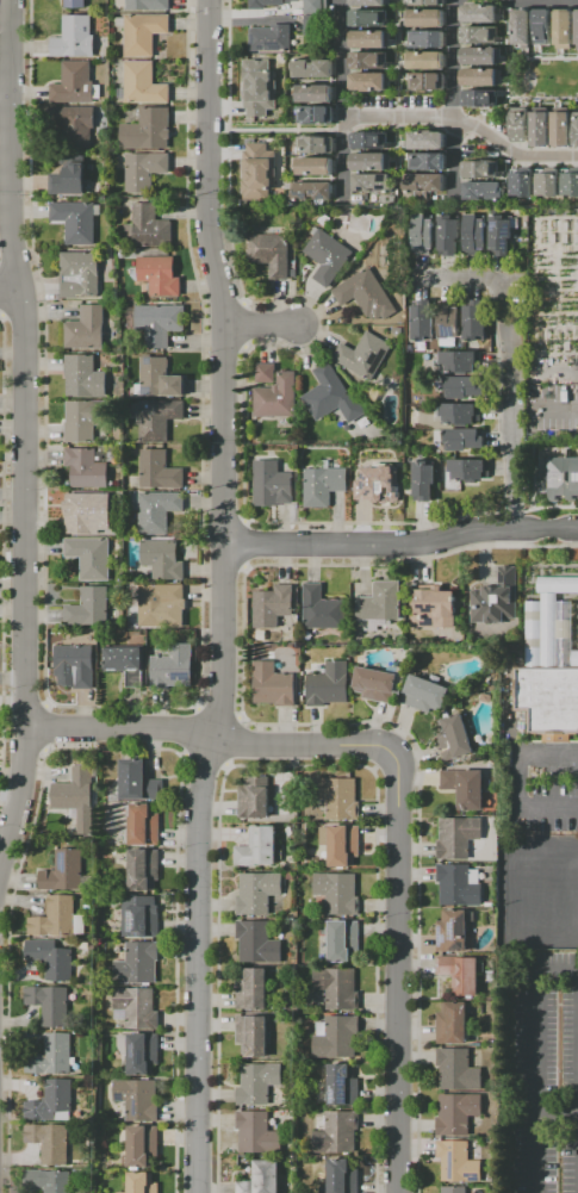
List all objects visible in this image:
building: (77, 4)
building: (269, 4)
building: (371, 4)
building: (430, 4)
building: (150, 5)
building: (318, 7)
building: (483, 15)
building: (371, 19)
building: (428, 19)
building: (316, 27)
building: (546, 29)
building: (576, 29)
building: (524, 30)
building: (566, 30)
building: (145, 33)
building: (483, 37)
building: (76, 39)
building: (273, 39)
building: (373, 41)
building: (430, 41)
rooftop solar panel: (271, 44)
rooftop solar panel: (259, 45)
building: (484, 57)
road: (456, 60)
building: (371, 62)
building: (428, 62)
building: (315, 69)
building: (484, 79)
building: (371, 83)
building: (430, 83)
building: (76, 85)
building: (145, 85)
building: (261, 89)
building: (317, 95)
road: (2, 98)
road: (344, 100)
building: (481, 100)
building: (318, 116)
road: (400, 119)
building: (76, 126)
building: (522, 126)
building: (542, 131)
building: (564, 131)
building: (577, 131)
building: (149, 132)
building: (371, 142)
building: (429, 142)
building: (318, 145)
road: (512, 153)
building: (373, 163)
building: (430, 163)
building: (317, 168)
building: (481, 170)
building: (147, 172)
building: (261, 174)
building: (72, 178)
building: (374, 185)
building: (524, 185)
building: (551, 185)
building: (571, 185)
building: (425, 187)
building: (313, 192)
building: (485, 192)
building: (79, 223)
rooftop solar panel: (495, 224)
building: (150, 229)
building: (503, 235)
building: (424, 236)
building: (450, 236)
building: (477, 236)
rooftop solar panel: (503, 238)
building: (272, 255)
building: (330, 259)
building: (81, 276)
building: (161, 276)
road: (7, 293)
building: (368, 297)
building: (477, 322)
building: (424, 323)
building: (162, 324)
building: (450, 324)
road: (262, 327)
building: (88, 330)
rooftop solar panel: (443, 333)
building: (366, 358)
rooftop solar panel: (371, 358)
rooftop solar panel: (147, 360)
rooftop solar panel: (374, 361)
building: (462, 364)
building: (268, 374)
road: (509, 374)
building: (87, 379)
building: (162, 380)
building: (465, 389)
rooftop solar panel: (145, 391)
building: (335, 398)
building: (279, 399)
road: (560, 406)
building: (462, 415)
building: (159, 420)
building: (87, 421)
road: (20, 424)
building: (465, 441)
building: (88, 470)
building: (471, 471)
building: (162, 473)
building: (561, 479)
building: (383, 480)
building: (425, 483)
building: (325, 485)
building: (274, 486)
building: (88, 512)
building: (160, 512)
road: (400, 545)
building: (93, 559)
building: (164, 560)
road: (220, 596)
building: (498, 601)
building: (160, 604)
building: (383, 604)
building: (274, 608)
building: (92, 609)
building: (434, 609)
building: (324, 611)
building: (79, 665)
building: (129, 665)
building: (551, 665)
building: (175, 669)
building: (381, 685)
building: (275, 686)
building: (331, 686)
building: (428, 696)
road: (309, 725)
road: (210, 737)
building: (456, 737)
road: (517, 781)
building: (141, 783)
building: (467, 789)
building: (79, 799)
building: (256, 800)
building: (341, 800)
building: (145, 827)
building: (460, 839)
building: (343, 846)
building: (260, 850)
rooftop solar panel: (63, 862)
road: (548, 862)
building: (145, 871)
building: (67, 874)
building: (461, 887)
building: (260, 894)
building: (341, 894)
building: (143, 918)
rooftop solar panel: (133, 919)
building: (61, 920)
rooftop solar panel: (145, 926)
rooftop solar panel: (448, 928)
rooftop solar panel: (456, 928)
building: (454, 933)
rooftop solar panel: (448, 937)
rooftop solar panel: (437, 938)
building: (346, 942)
building: (260, 944)
building: (54, 959)
building: (139, 965)
road: (393, 976)
building: (462, 976)
building: (340, 989)
building: (254, 992)
road: (536, 1005)
building: (52, 1006)
building: (138, 1009)
building: (454, 1025)
building: (255, 1037)
building: (338, 1038)
rooftop solar panel: (133, 1051)
building: (142, 1054)
building: (54, 1057)
rooftop solar panel: (142, 1058)
rooftop solar panel: (343, 1071)
building: (460, 1071)
rooftop solar panel: (340, 1082)
building: (260, 1085)
building: (344, 1087)
rooftop solar panel: (341, 1096)
rooftop solar panel: (120, 1098)
building: (141, 1101)
building: (54, 1102)
rooftop solar panel: (135, 1108)
building: (460, 1116)
road: (577, 1116)
building: (261, 1133)
building: (338, 1133)
building: (52, 1144)
building: (144, 1147)
building: (461, 1163)
rooftop solar panel: (448, 1164)
road: (577, 1166)
building: (344, 1176)
rooftop solar panel: (470, 1176)
building: (265, 1179)
building: (46, 1182)
building: (144, 1183)
building: (456, 1189)

